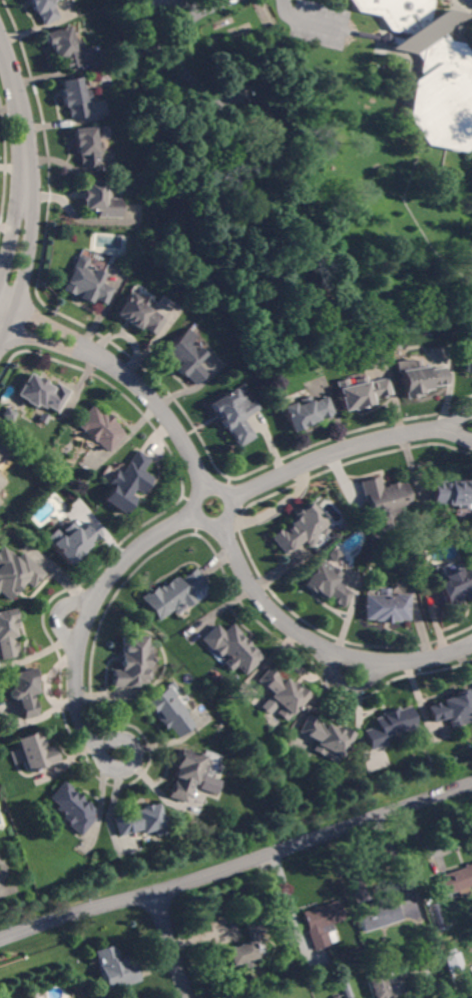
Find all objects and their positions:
building: (44, 10)
building: (399, 13)
building: (228, 34)
building: (64, 47)
building: (75, 97)
building: (443, 97)
building: (260, 121)
road: (23, 124)
building: (88, 145)
building: (100, 200)
road: (246, 201)
road: (10, 243)
road: (23, 281)
building: (86, 282)
building: (139, 313)
building: (468, 353)
building: (184, 356)
building: (416, 377)
building: (358, 391)
building: (41, 393)
building: (303, 412)
building: (6, 414)
building: (230, 416)
building: (42, 418)
building: (99, 428)
building: (3, 452)
building: (126, 482)
building: (452, 493)
building: (384, 501)
road: (187, 518)
road: (221, 521)
building: (299, 529)
building: (73, 541)
building: (16, 573)
building: (326, 583)
building: (456, 586)
building: (172, 594)
building: (386, 607)
road: (58, 615)
building: (7, 634)
building: (231, 648)
building: (133, 662)
building: (24, 691)
building: (280, 692)
building: (452, 709)
building: (168, 712)
building: (389, 726)
building: (325, 737)
building: (36, 752)
building: (187, 774)
road: (471, 783)
building: (73, 808)
building: (141, 821)
road: (428, 848)
building: (0, 862)
road: (237, 865)
building: (456, 881)
building: (365, 884)
road: (384, 889)
building: (377, 914)
building: (322, 923)
building: (249, 943)
road: (172, 945)
building: (454, 963)
road: (412, 968)
building: (115, 969)
building: (471, 975)
building: (377, 985)
building: (334, 995)
building: (32, 997)

